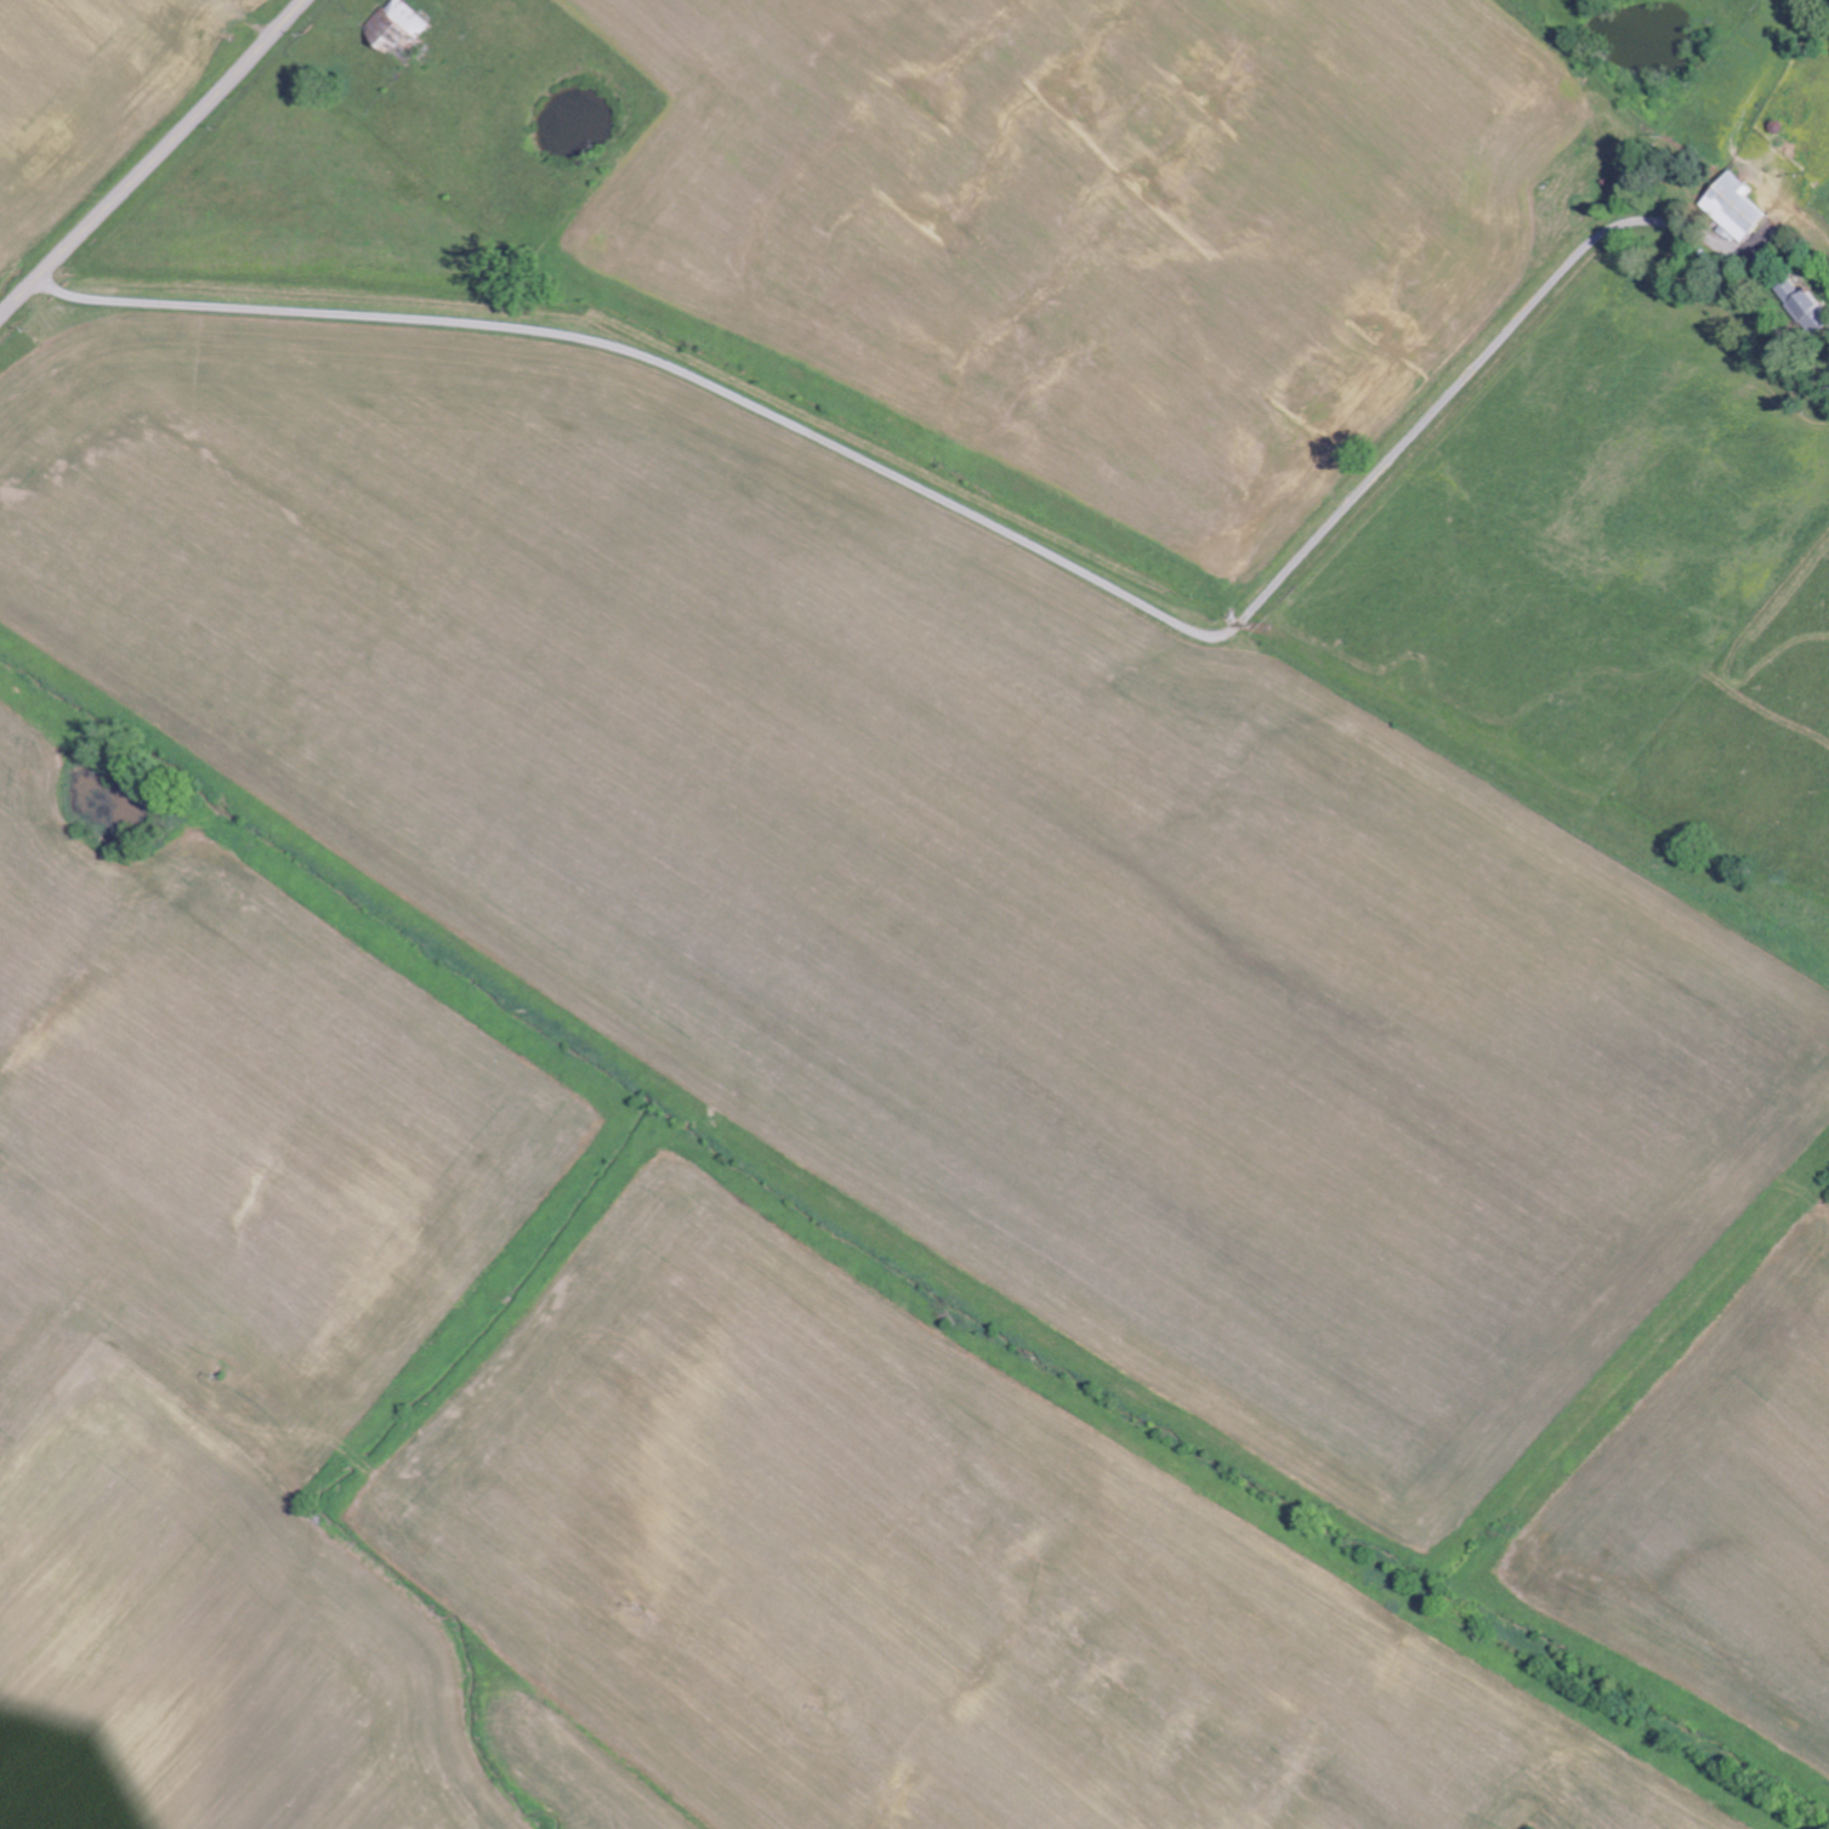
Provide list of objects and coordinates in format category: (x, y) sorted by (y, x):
building: (403, 27)
road: (154, 160)
building: (1739, 208)

